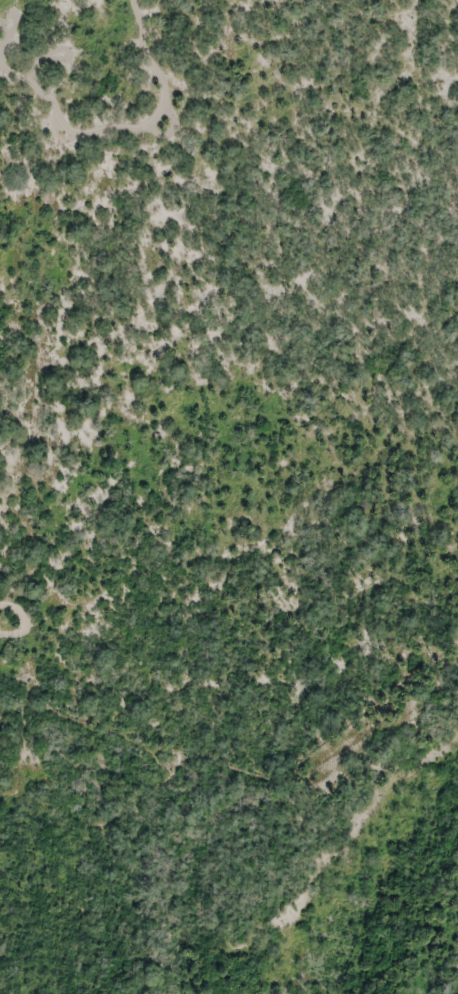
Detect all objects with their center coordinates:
road: (131, 131)
road: (19, 613)
road: (12, 636)

